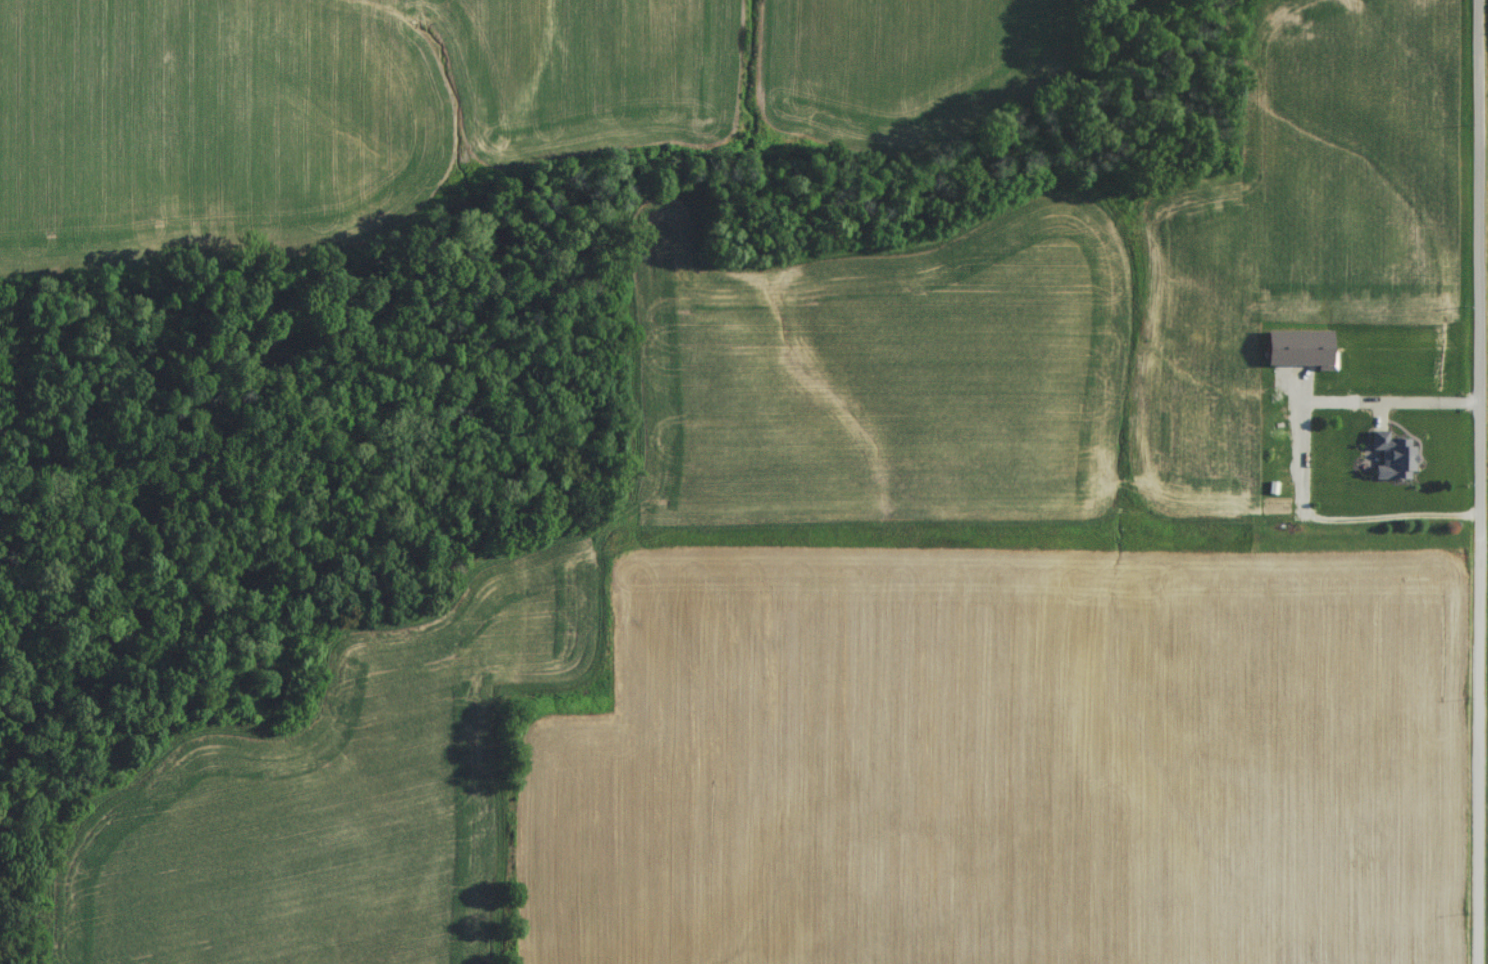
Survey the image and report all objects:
building: (1386, 461)
road: (1487, 482)

